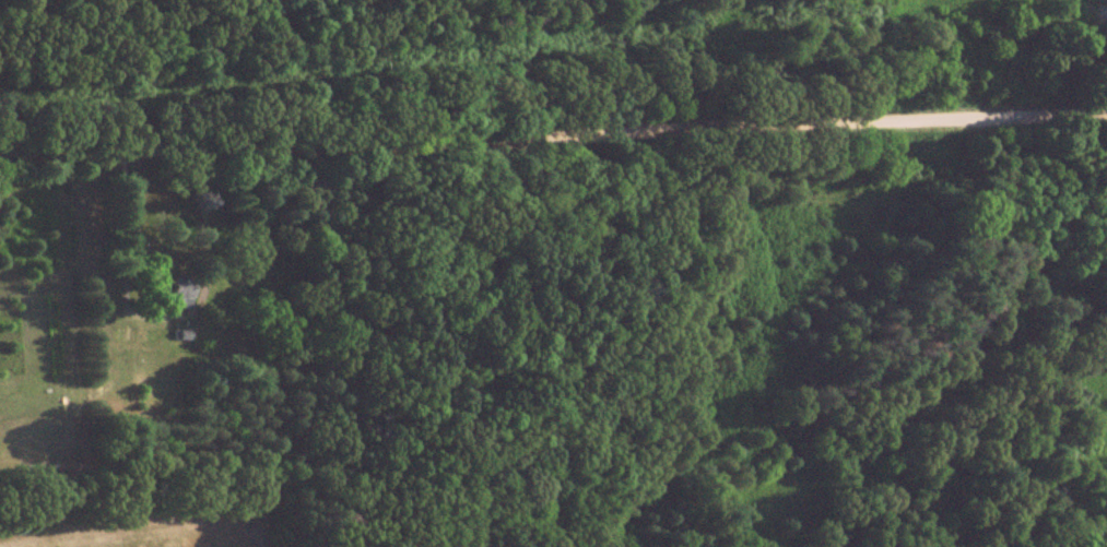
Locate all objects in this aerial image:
road: (1085, 53)
road: (553, 127)
building: (178, 293)

